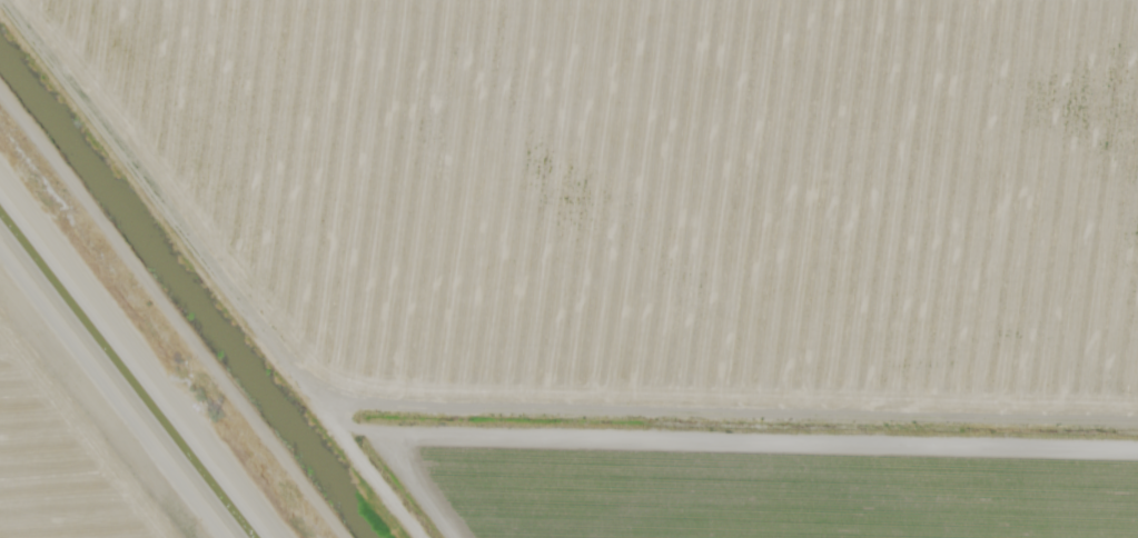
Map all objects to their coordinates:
crop: (568, 269)
road: (139, 361)

